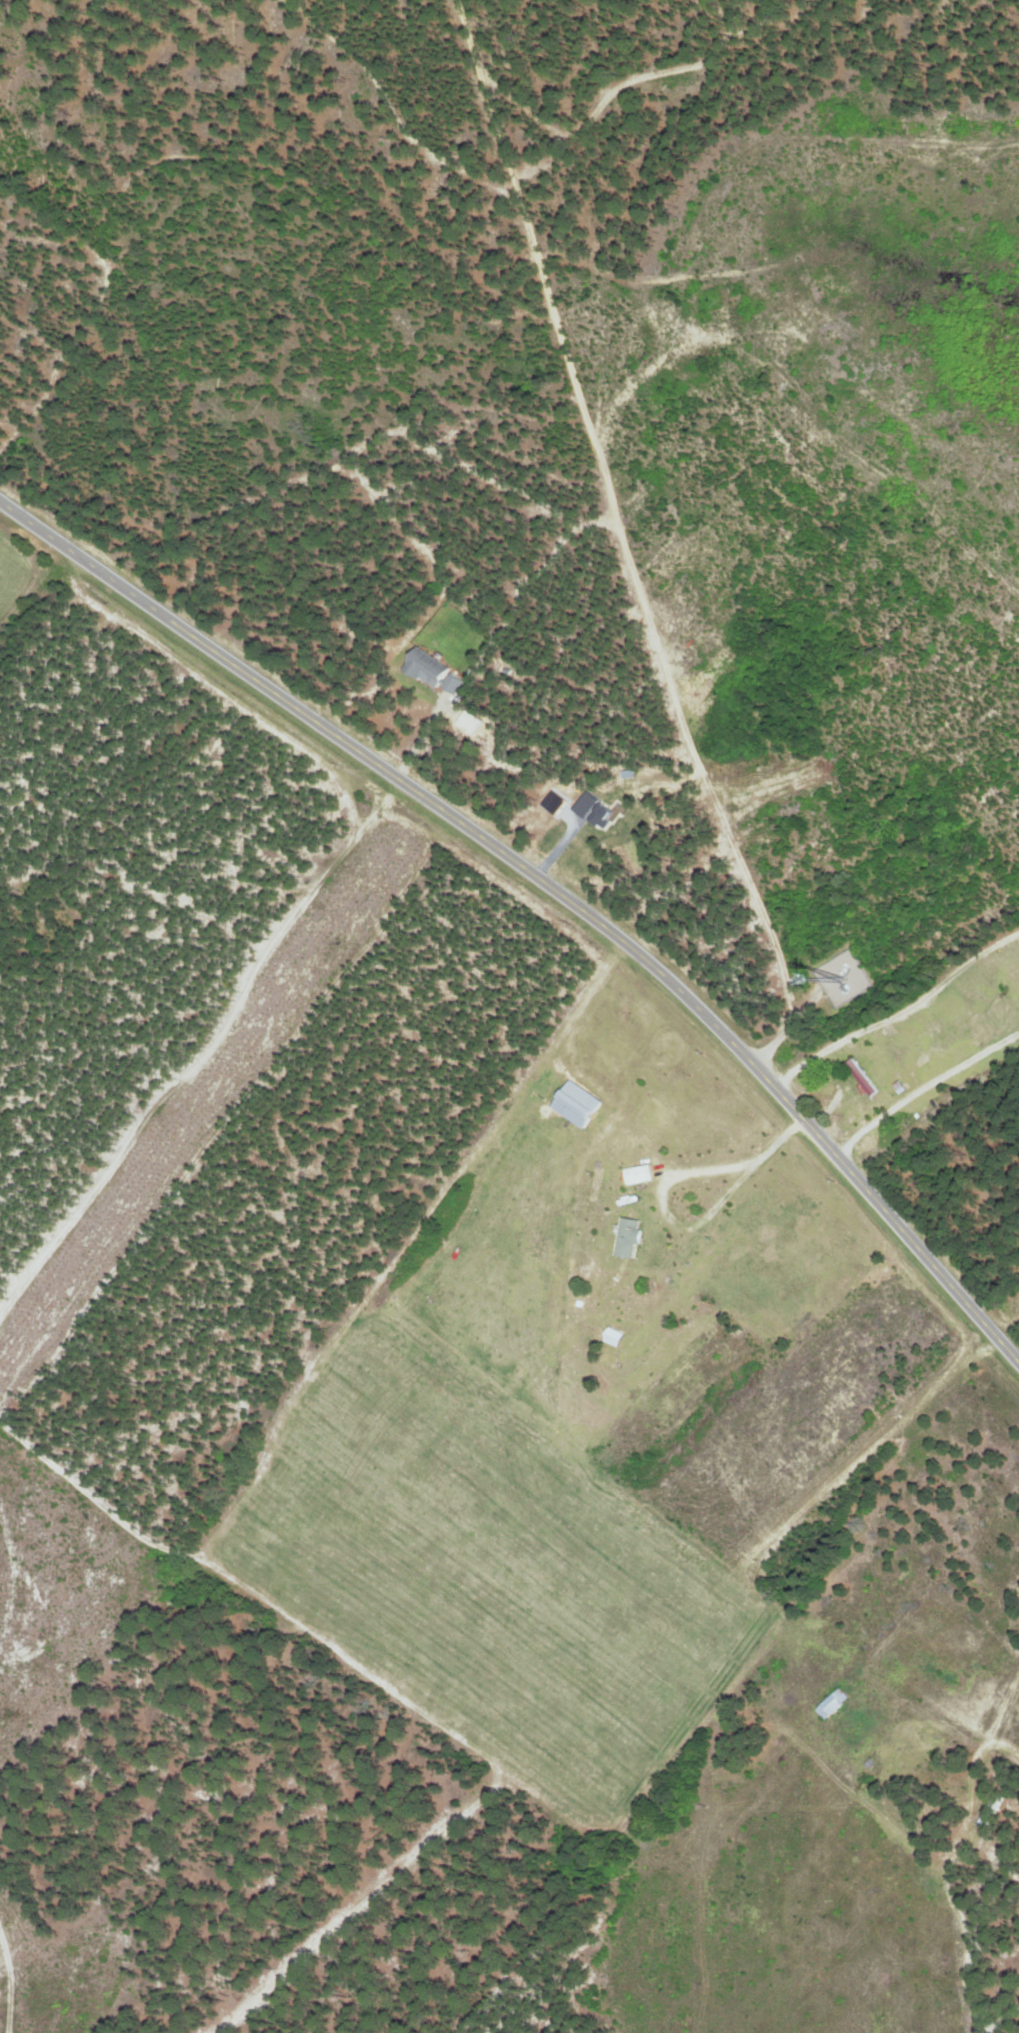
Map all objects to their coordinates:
building: (435, 670)
building: (472, 720)
building: (596, 809)
road: (545, 885)
building: (863, 1076)
building: (580, 1103)
building: (641, 1173)
building: (630, 1236)
building: (834, 1701)

